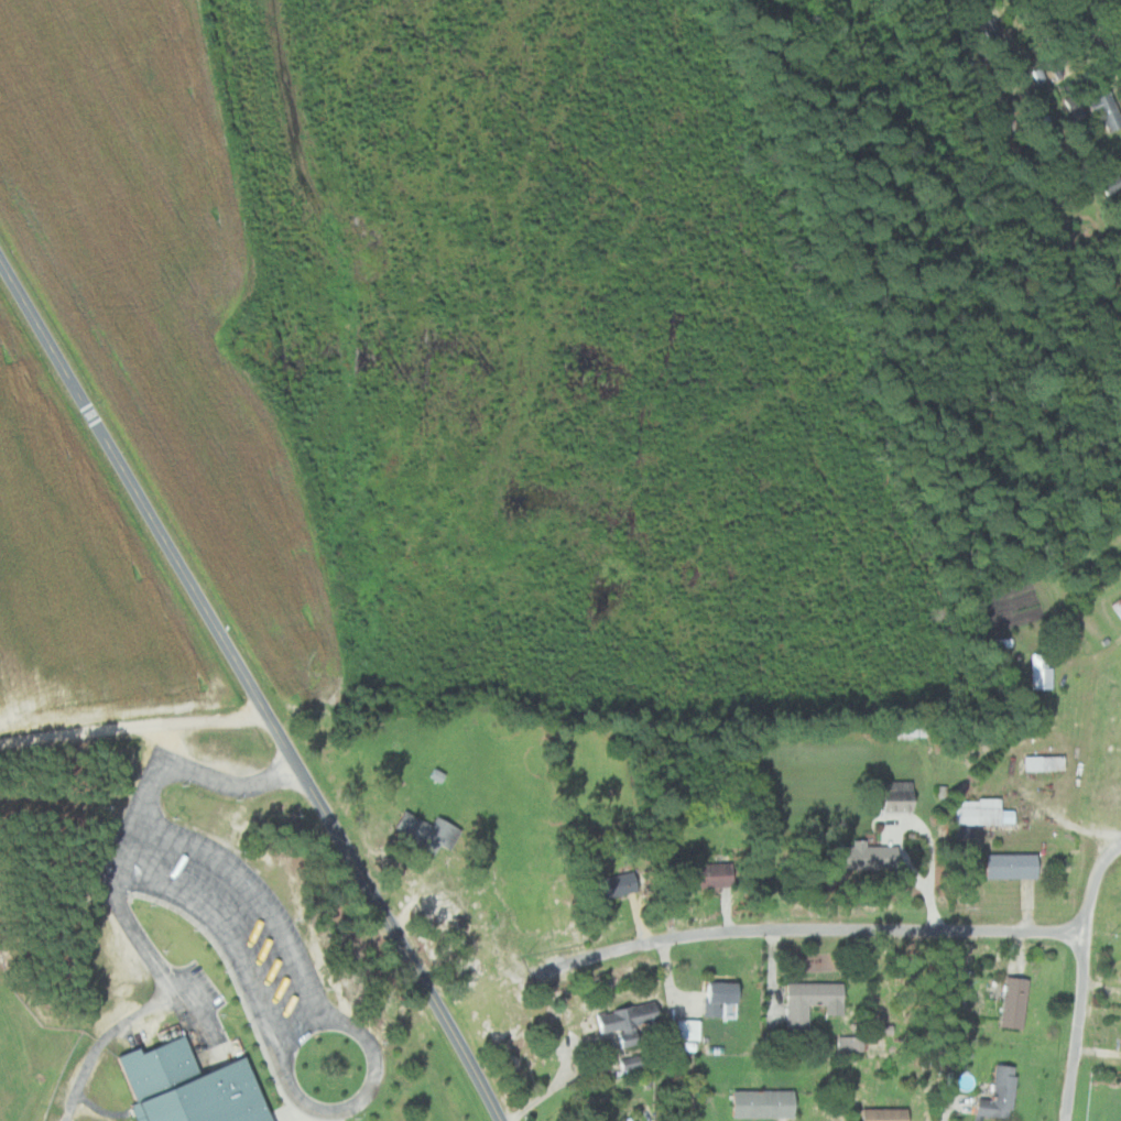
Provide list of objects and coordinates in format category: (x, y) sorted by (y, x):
building: (1108, 111)
building: (1112, 184)
building: (1119, 614)
road: (1100, 649)
building: (1043, 671)
road: (250, 689)
road: (132, 726)
building: (1047, 762)
building: (901, 797)
building: (981, 812)
building: (433, 829)
building: (864, 856)
building: (1014, 867)
road: (129, 870)
building: (710, 875)
building: (605, 885)
building: (621, 885)
road: (250, 901)
road: (812, 929)
road: (156, 960)
road: (1084, 978)
building: (723, 1000)
building: (812, 1001)
building: (1016, 1001)
building: (776, 1015)
building: (630, 1021)
building: (689, 1030)
road: (303, 1032)
road: (105, 1040)
building: (847, 1042)
building: (1120, 1053)
building: (956, 1056)
building: (634, 1063)
building: (196, 1087)
road: (551, 1091)
building: (1002, 1093)
road: (361, 1098)
building: (766, 1104)
building: (888, 1114)

